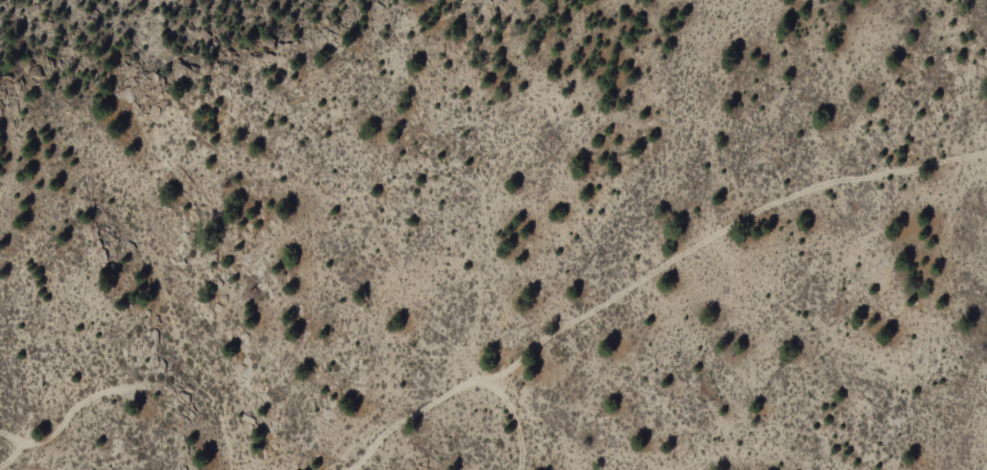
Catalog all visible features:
road: (653, 276)
road: (516, 419)
road: (56, 429)
road: (6, 456)

